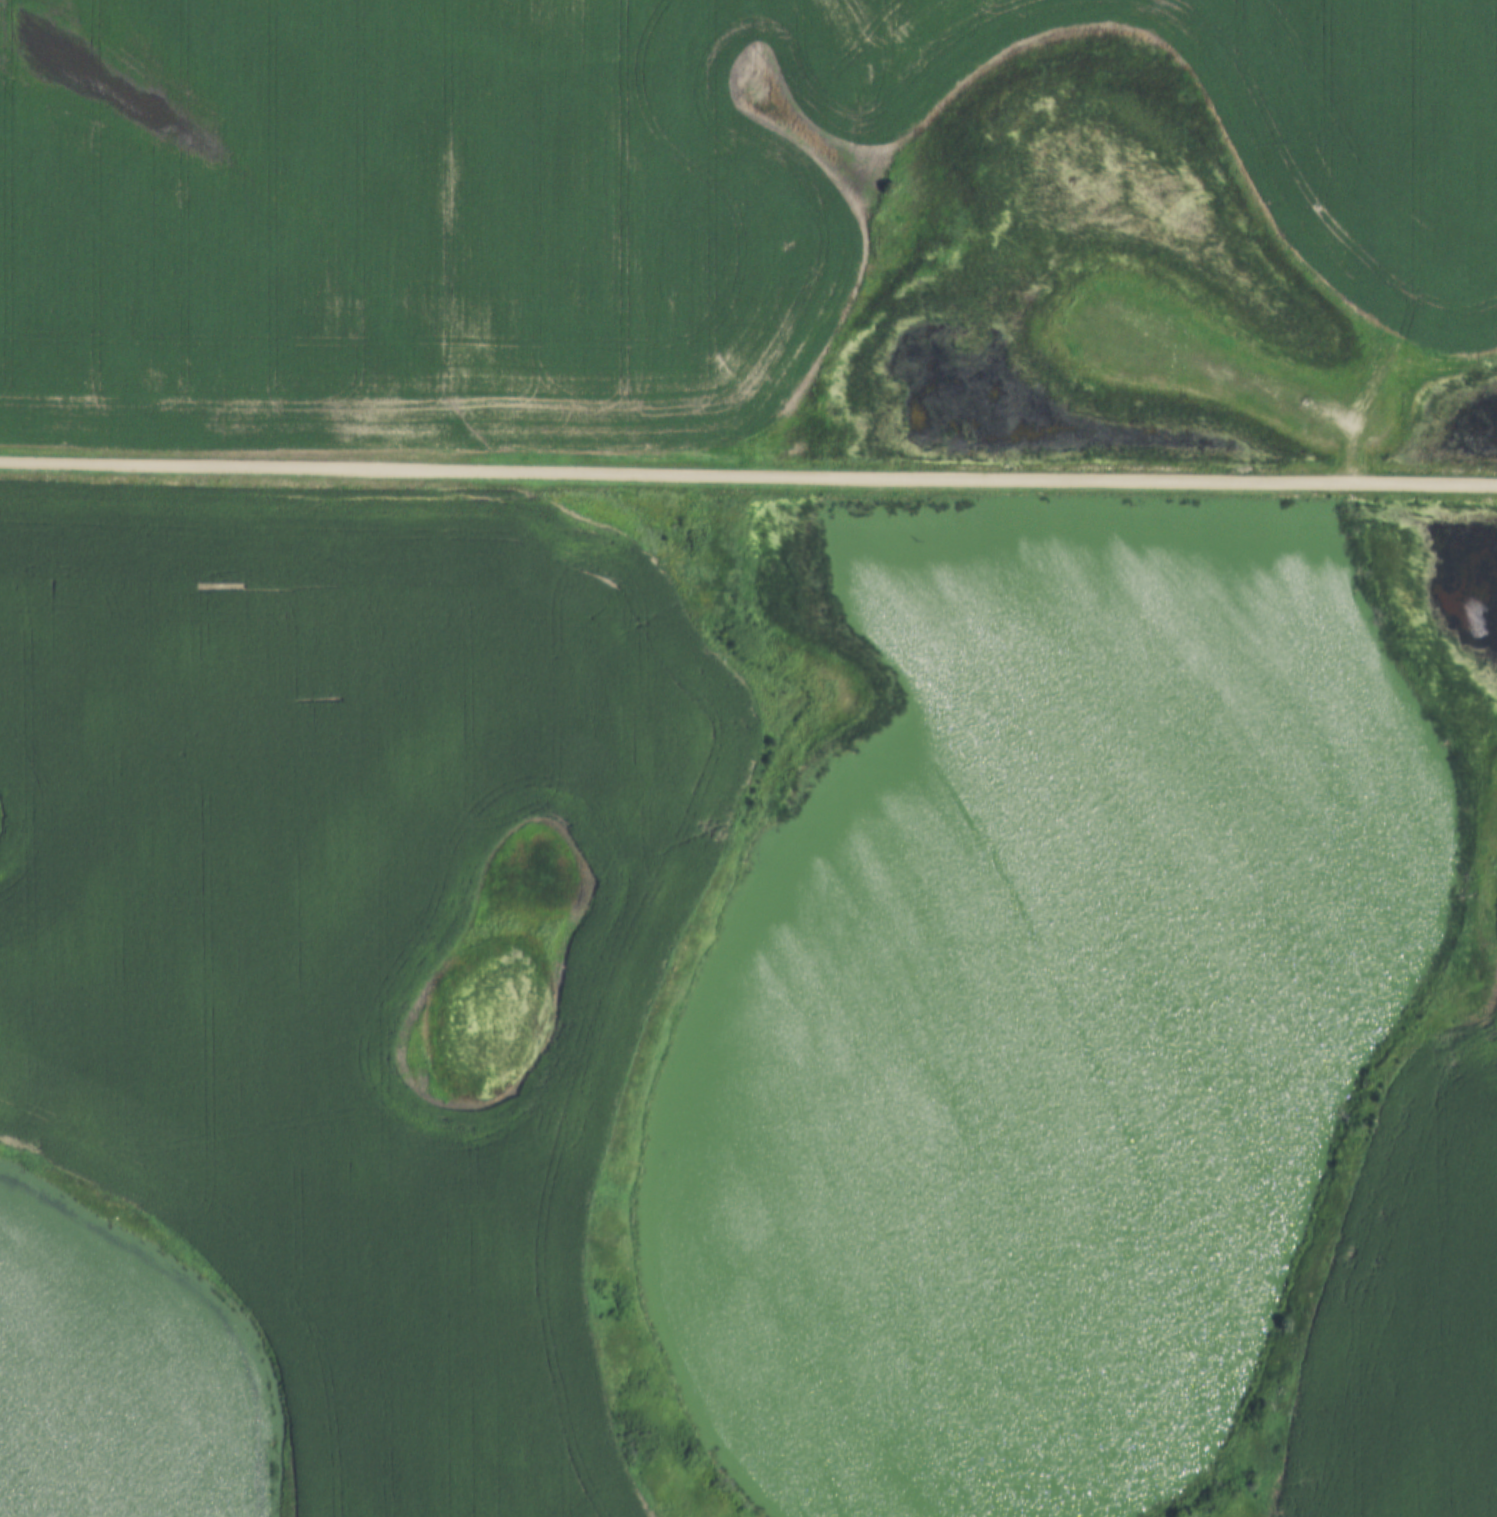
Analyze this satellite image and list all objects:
road: (748, 480)

